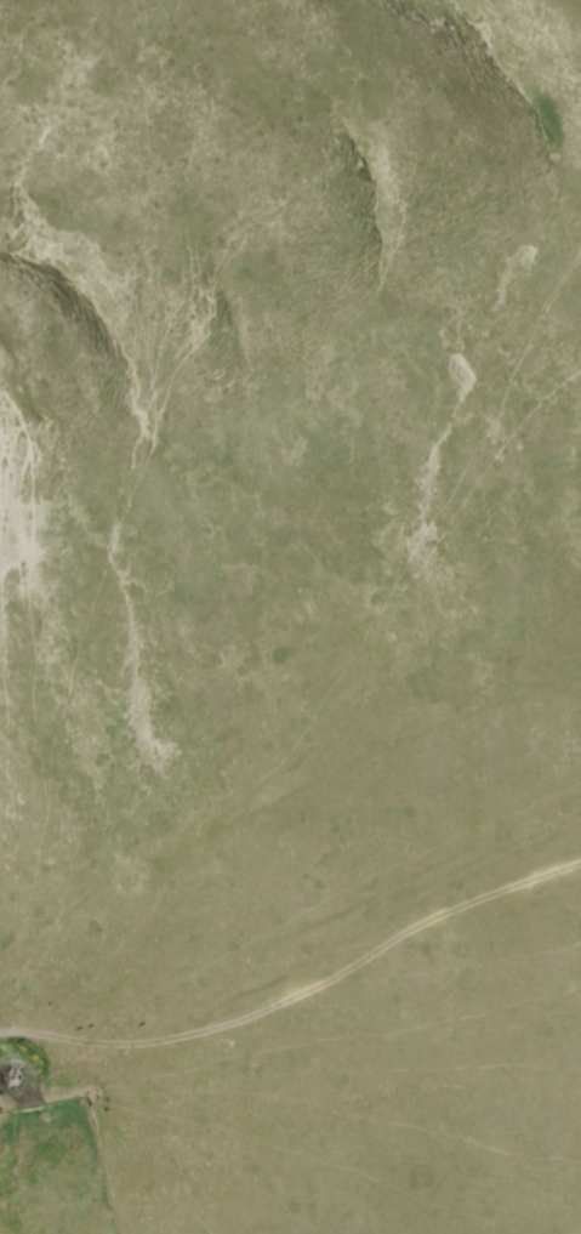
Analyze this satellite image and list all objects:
road: (300, 996)

